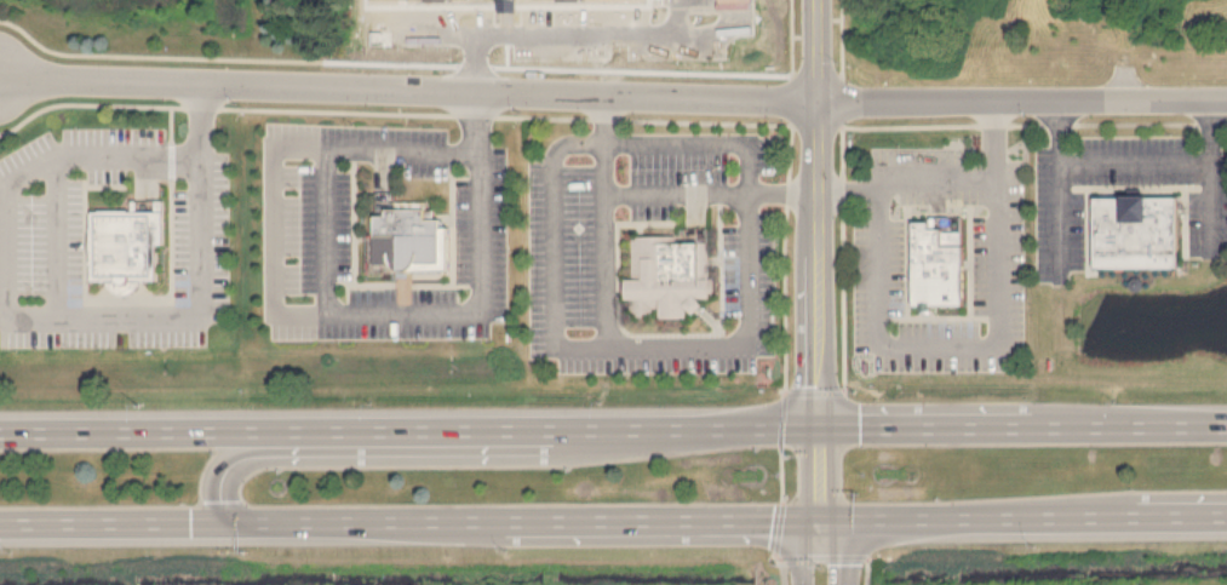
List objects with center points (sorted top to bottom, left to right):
road: (544, 40)
road: (166, 56)
road: (790, 62)
road: (839, 62)
road: (408, 91)
road: (1021, 101)
road: (526, 117)
road: (888, 124)
road: (816, 125)
road: (710, 147)
road: (1166, 160)
road: (935, 180)
road: (1061, 183)
road: (649, 195)
road: (1214, 202)
road: (819, 214)
parking lot: (1059, 223)
building: (1134, 229)
road: (273, 233)
road: (56, 237)
parking lot: (303, 239)
building: (406, 239)
parking lot: (40, 242)
building: (128, 242)
building: (939, 264)
parking lot: (877, 268)
road: (604, 271)
building: (670, 274)
parking lot: (567, 276)
road: (349, 312)
road: (47, 321)
road: (956, 345)
road: (600, 348)
road: (810, 390)
road: (780, 418)
road: (1025, 428)
traffic signals: (822, 429)
road: (411, 431)
road: (258, 453)
road: (780, 472)
road: (822, 475)
road: (1025, 520)
road: (411, 521)
traffic signals: (824, 521)
traffic signals: (233, 522)
road: (778, 527)
road: (803, 550)
road: (838, 551)
road: (820, 556)
road: (780, 569)
road: (866, 569)

